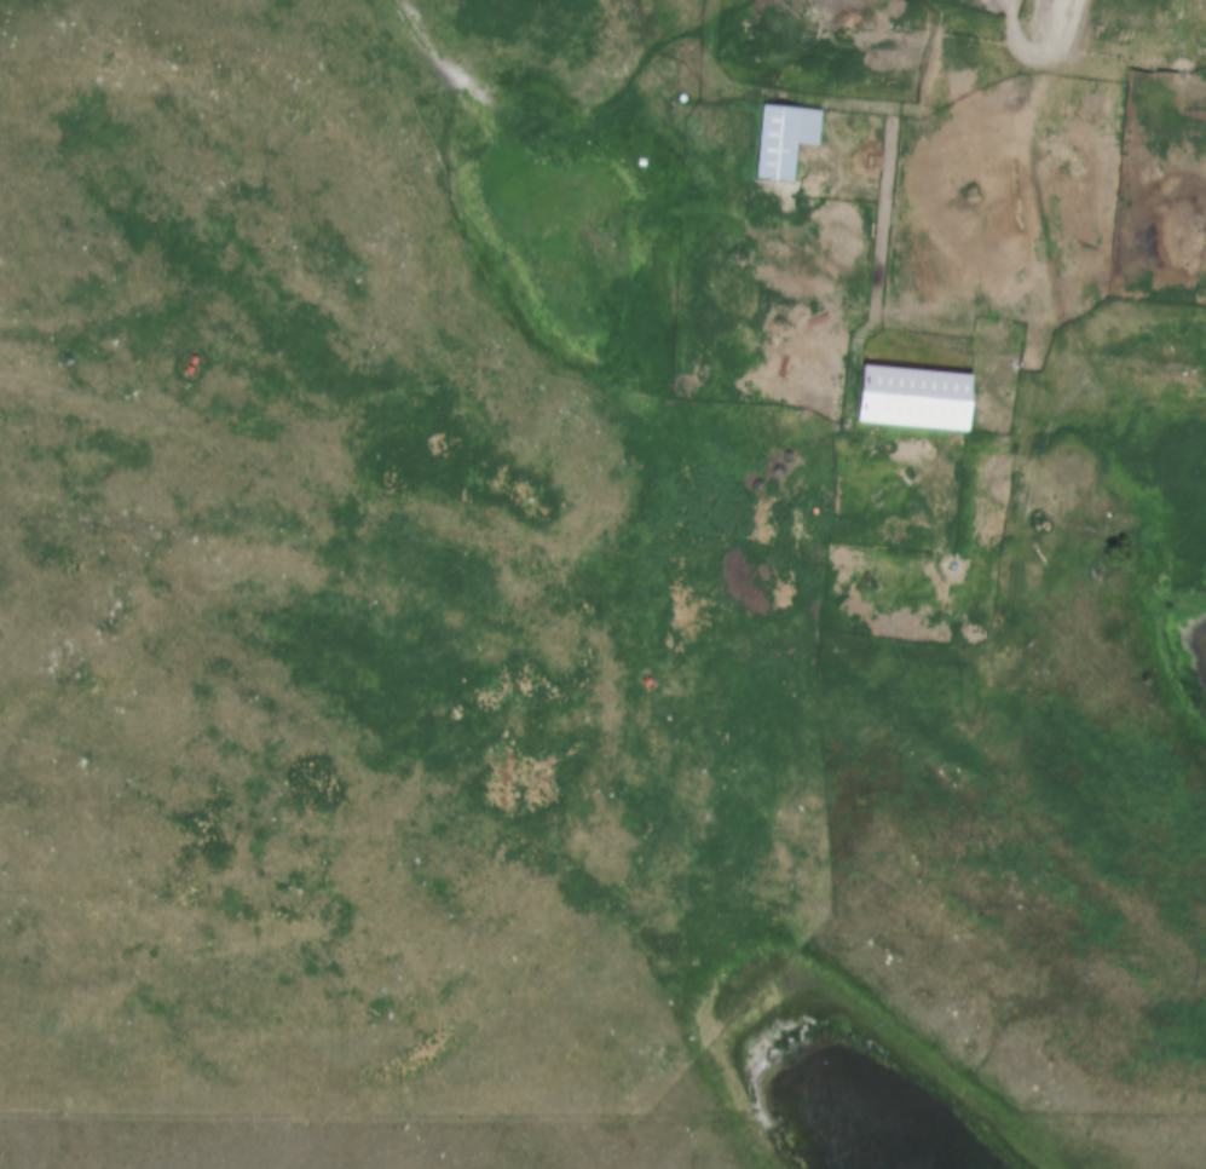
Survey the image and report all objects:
building: (783, 140)

